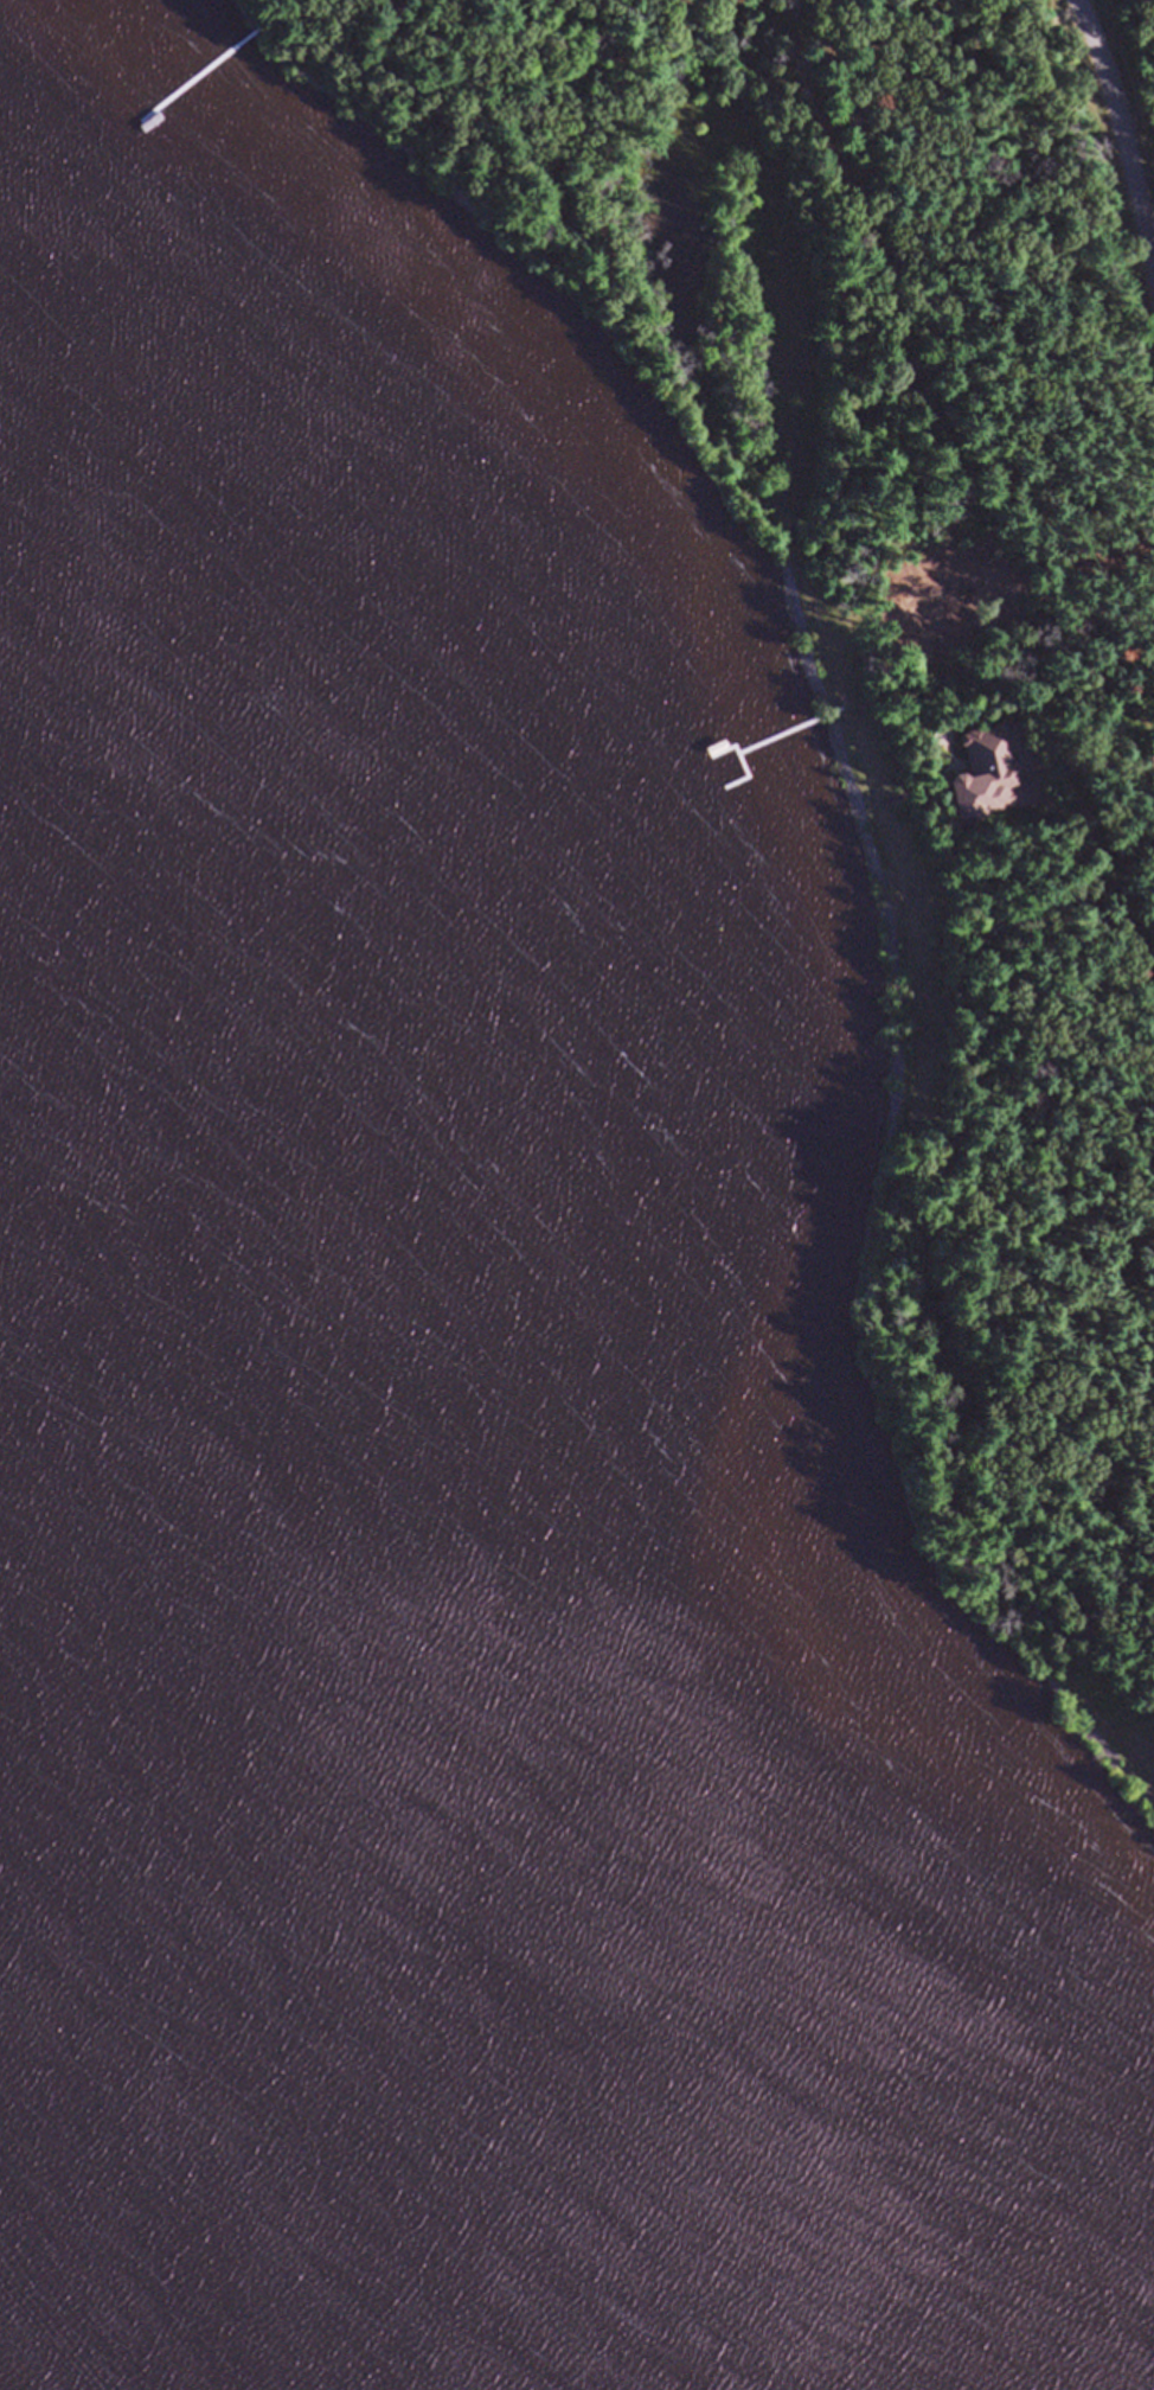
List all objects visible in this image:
road: (1116, 152)
road: (1108, 749)
building: (995, 786)

